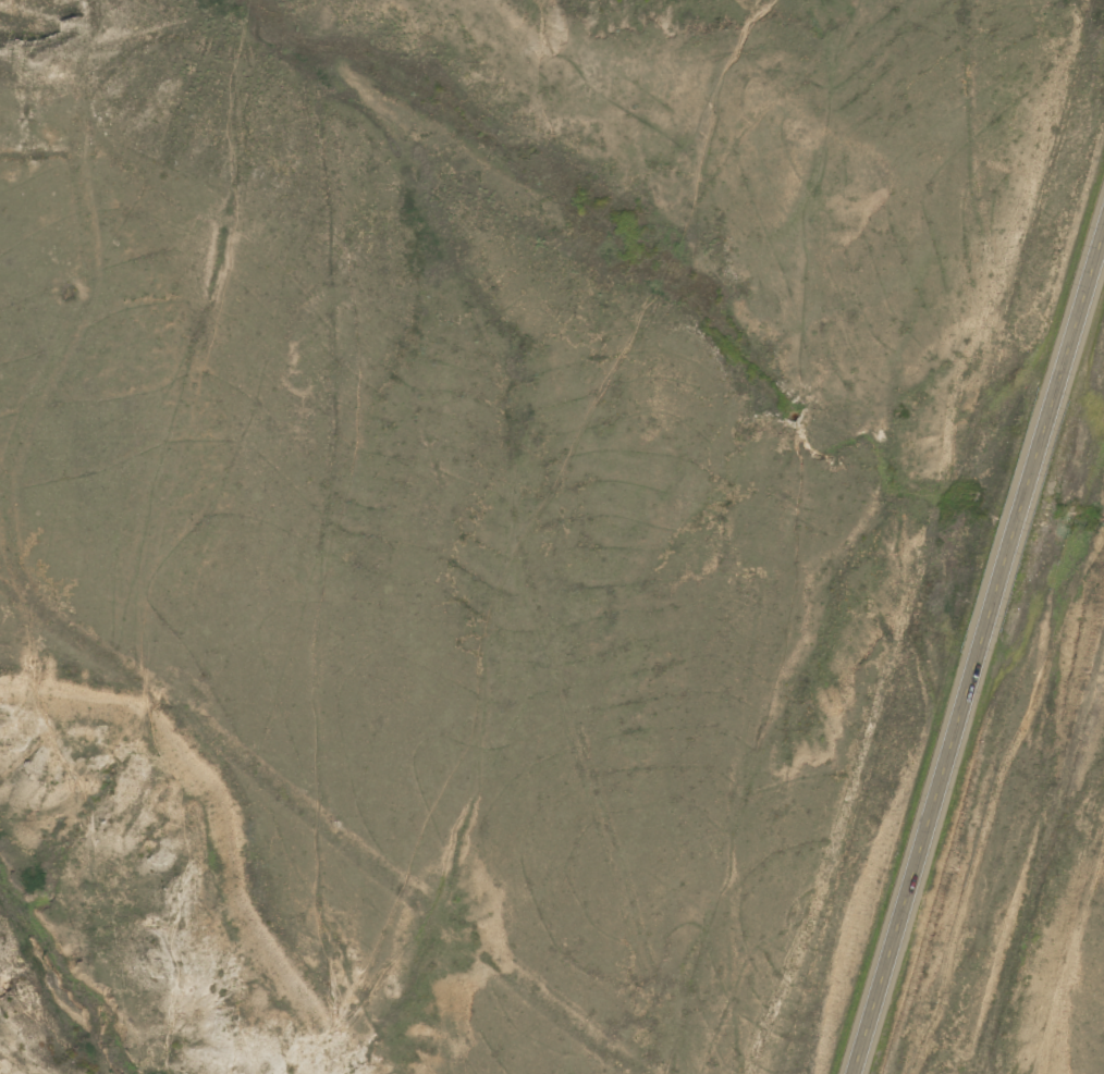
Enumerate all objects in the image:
road: (977, 649)

